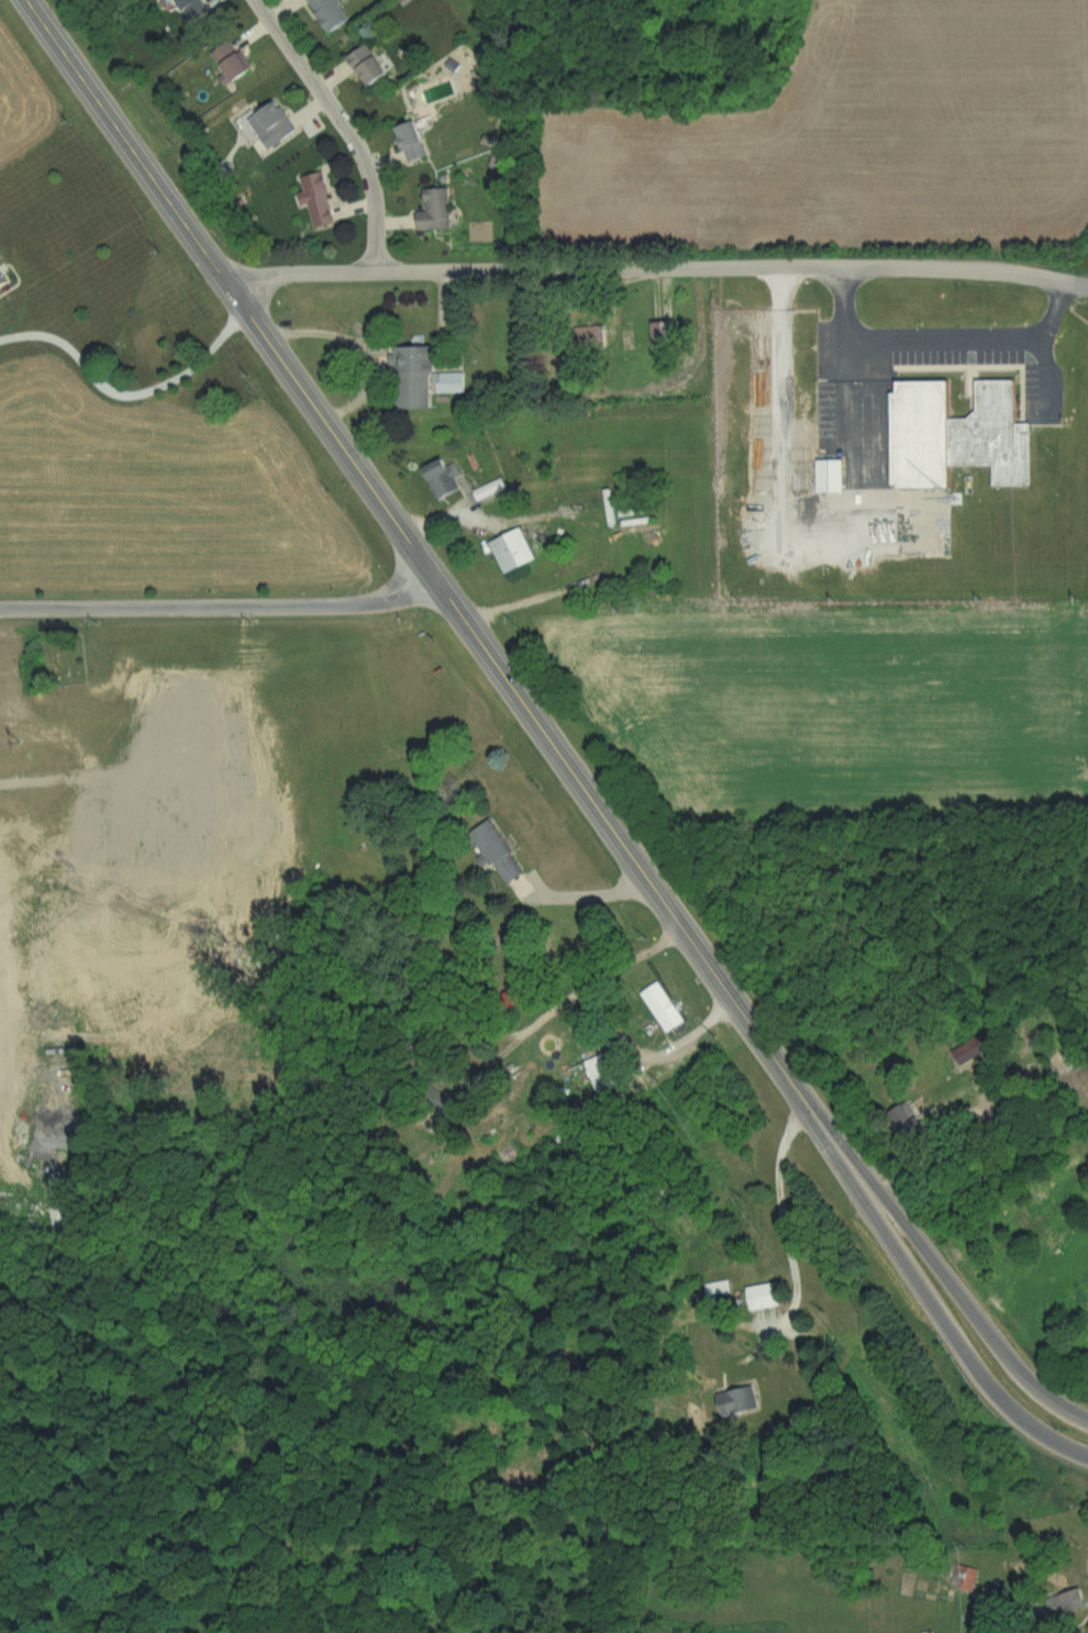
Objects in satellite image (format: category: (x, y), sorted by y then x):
building: (198, 9)
building: (331, 13)
building: (235, 62)
building: (370, 67)
building: (275, 124)
road: (344, 125)
building: (417, 142)
building: (320, 200)
building: (437, 211)
road: (656, 269)
building: (667, 335)
road: (934, 346)
road: (358, 351)
building: (422, 376)
road: (127, 400)
building: (964, 435)
building: (834, 475)
building: (444, 478)
building: (884, 548)
building: (518, 549)
building: (846, 549)
road: (441, 585)
road: (222, 607)
park: (64, 657)
building: (499, 852)
road: (584, 895)
road: (569, 1001)
building: (665, 1007)
building: (606, 1071)
road: (779, 1198)
building: (718, 1288)
building: (766, 1299)
road: (966, 1303)
road: (951, 1334)
building: (740, 1401)
building: (1069, 1603)

